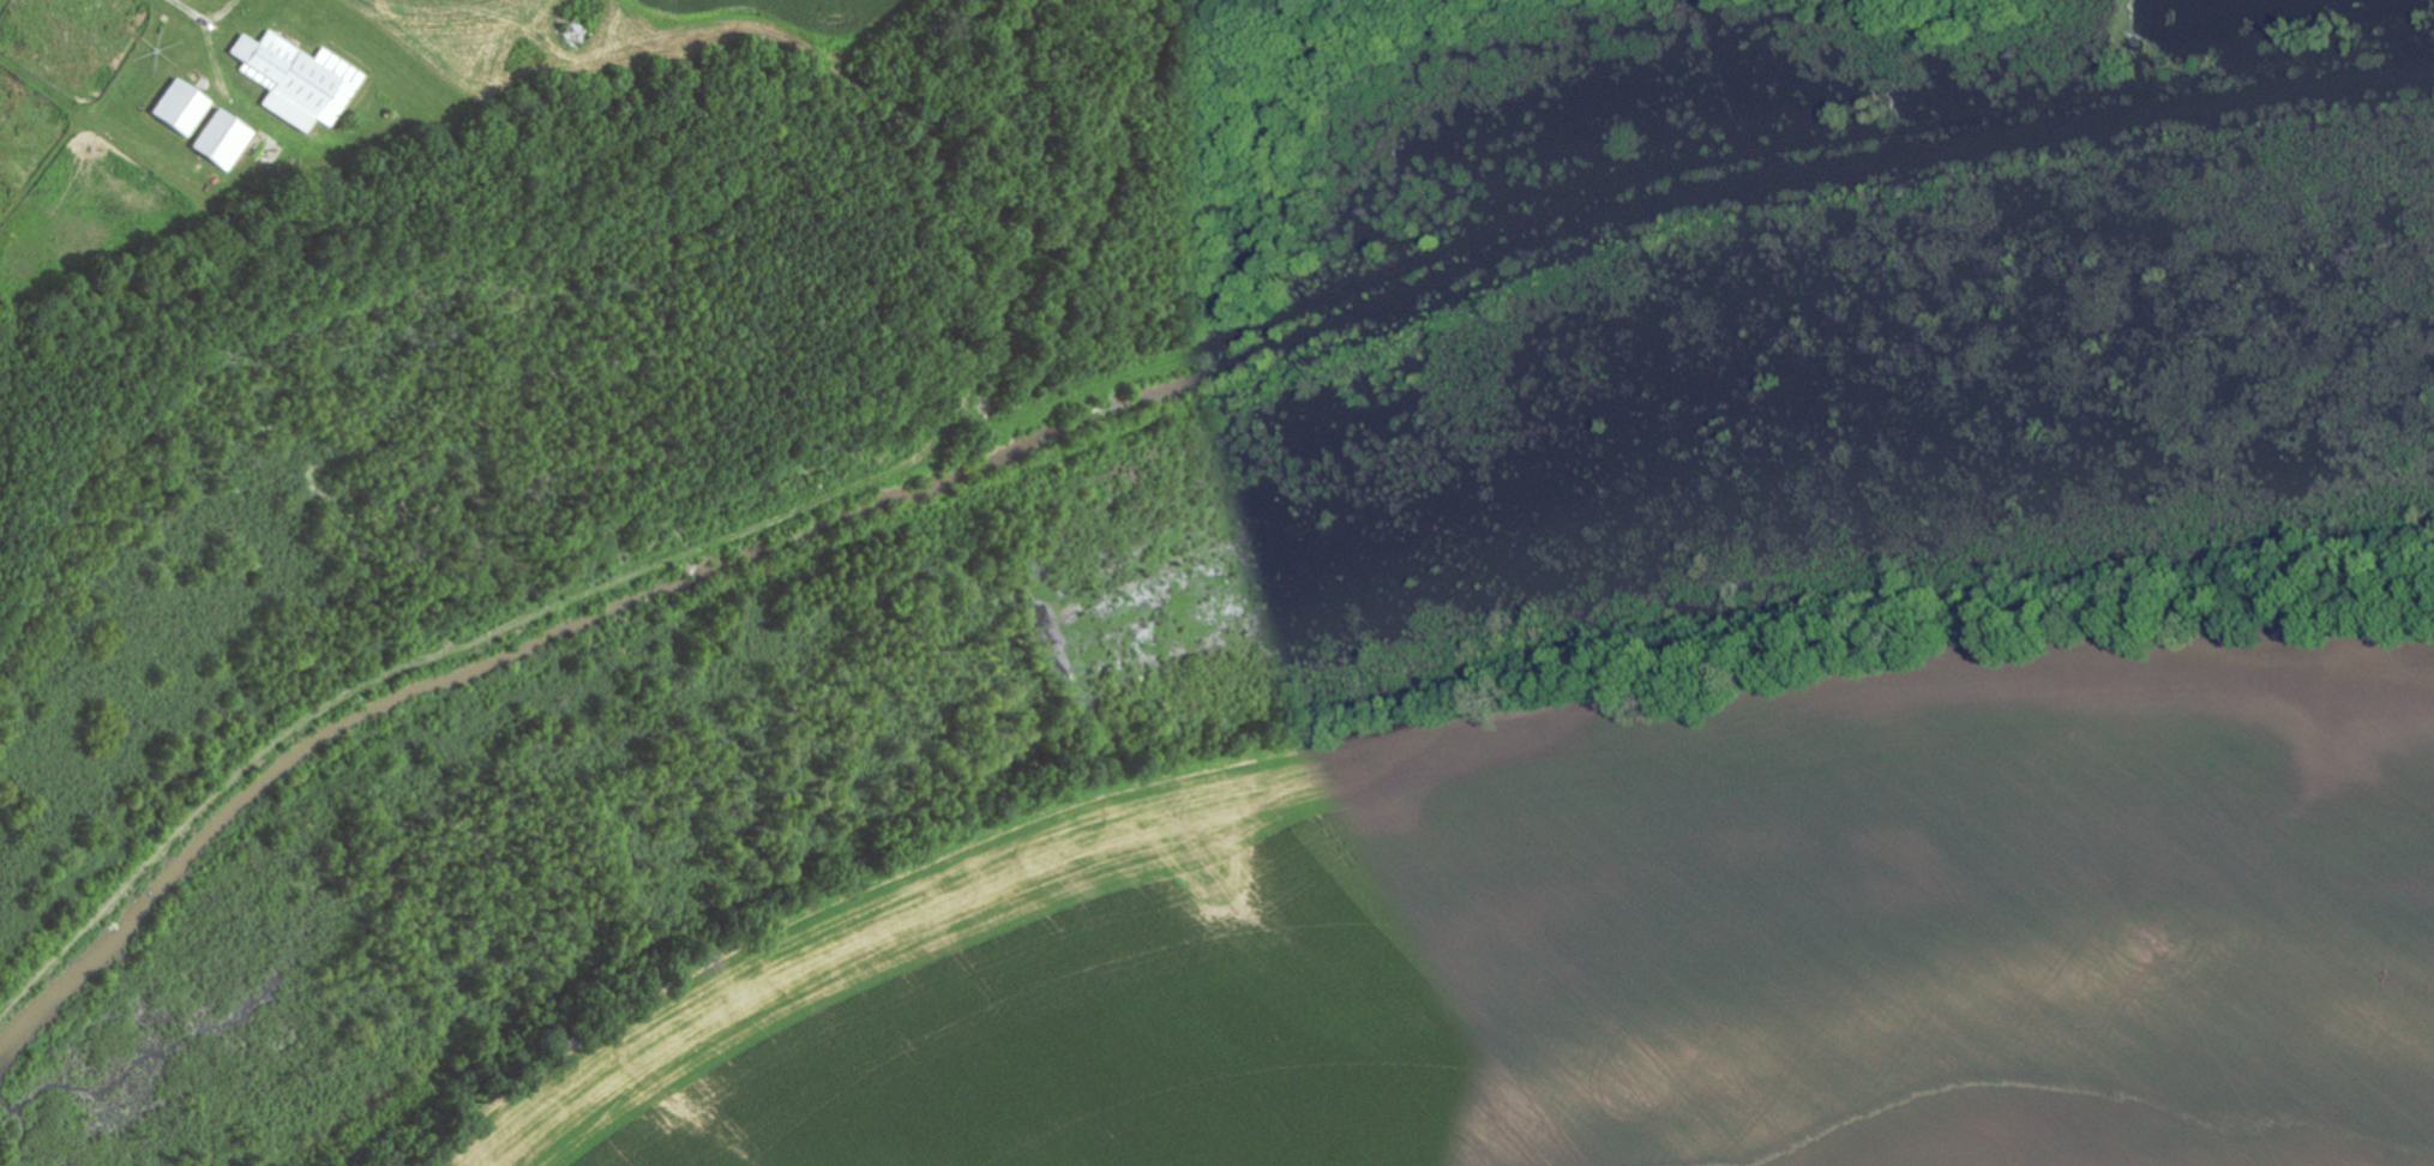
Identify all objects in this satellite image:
road: (214, 18)
building: (301, 80)
building: (185, 107)
building: (226, 139)

